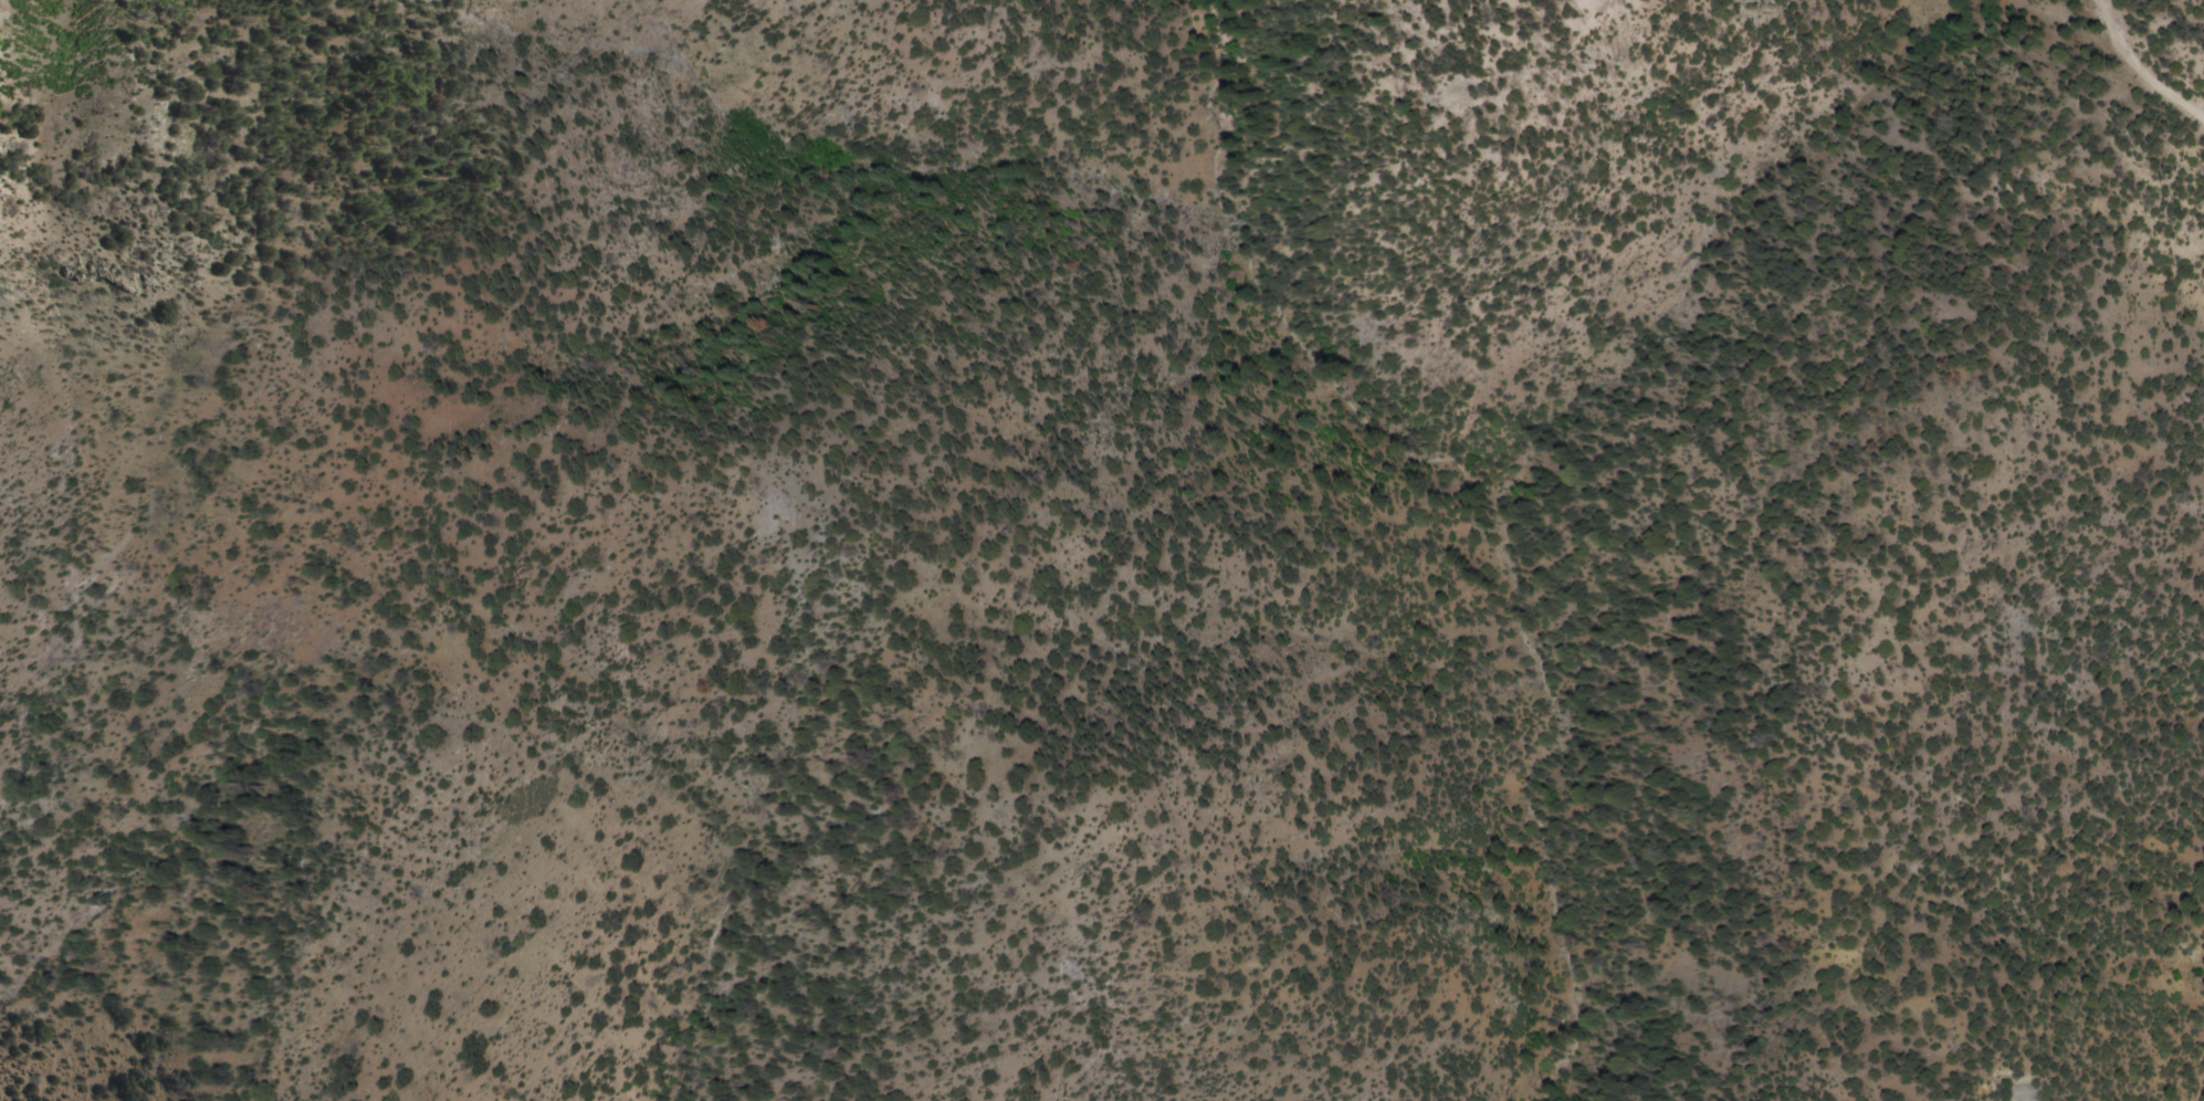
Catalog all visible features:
road: (2137, 73)
mineshaft: (2009, 1097)

